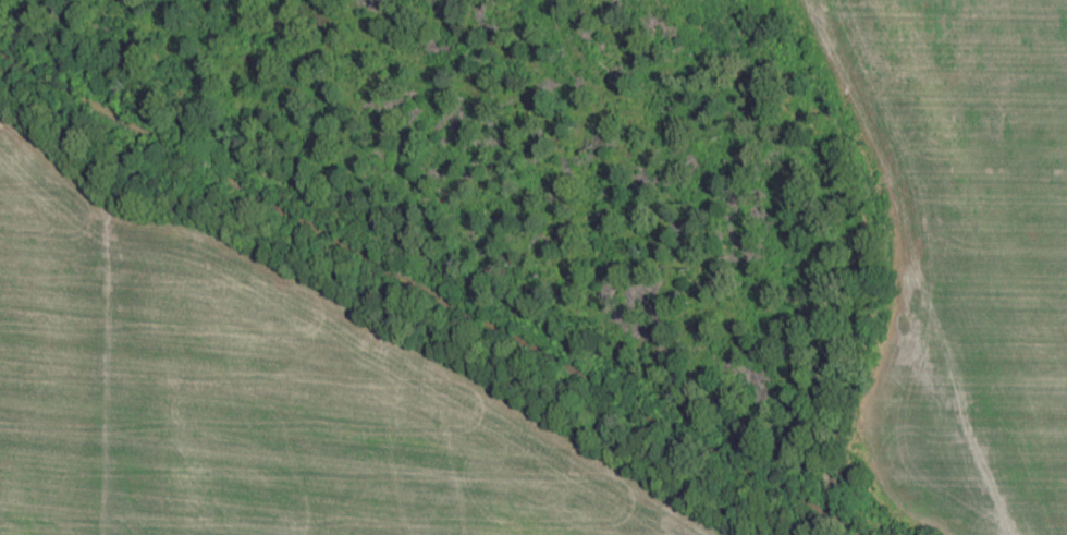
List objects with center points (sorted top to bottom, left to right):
road: (919, 262)

